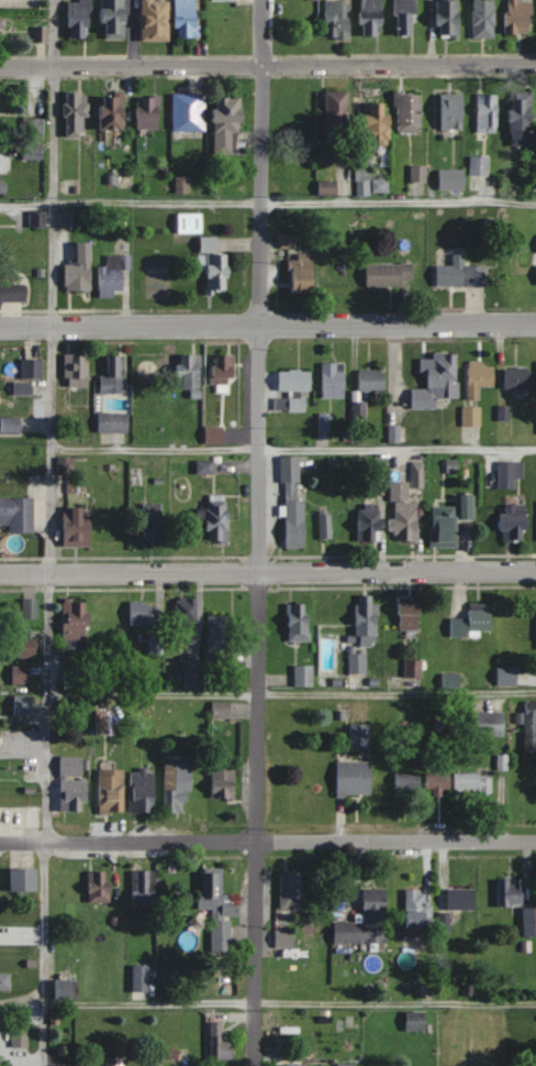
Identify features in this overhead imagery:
building: (518, 17)
building: (372, 18)
building: (406, 18)
building: (80, 19)
building: (115, 19)
building: (188, 19)
building: (337, 19)
building: (448, 19)
building: (484, 19)
building: (156, 20)
building: (2, 24)
road: (267, 65)
building: (113, 111)
building: (453, 111)
building: (189, 112)
building: (149, 113)
building: (410, 113)
building: (488, 113)
building: (77, 114)
building: (338, 114)
building: (299, 116)
building: (523, 120)
building: (377, 121)
building: (227, 125)
building: (34, 128)
building: (364, 173)
building: (418, 174)
building: (453, 179)
building: (1, 180)
building: (327, 188)
road: (268, 201)
building: (66, 219)
building: (190, 223)
building: (214, 264)
building: (80, 268)
building: (303, 271)
building: (460, 273)
building: (389, 274)
building: (113, 275)
building: (12, 294)
road: (267, 322)
building: (33, 369)
building: (224, 369)
building: (76, 370)
building: (191, 373)
building: (114, 376)
building: (518, 377)
building: (479, 378)
building: (333, 380)
building: (371, 380)
building: (295, 381)
building: (437, 381)
building: (299, 406)
building: (471, 416)
building: (114, 422)
building: (11, 425)
building: (215, 435)
road: (293, 447)
building: (510, 473)
building: (293, 504)
building: (469, 507)
building: (403, 513)
building: (18, 514)
building: (216, 518)
building: (154, 523)
building: (515, 523)
building: (326, 525)
building: (370, 525)
building: (78, 527)
building: (444, 527)
road: (51, 532)
road: (261, 532)
road: (268, 571)
building: (30, 608)
building: (187, 612)
building: (145, 614)
building: (410, 614)
building: (299, 622)
building: (473, 622)
building: (76, 623)
building: (366, 631)
building: (220, 637)
building: (155, 644)
building: (414, 668)
building: (507, 674)
building: (192, 677)
building: (72, 679)
road: (290, 692)
building: (24, 704)
building: (221, 708)
building: (104, 722)
building: (489, 723)
building: (529, 725)
building: (360, 736)
building: (355, 778)
building: (438, 781)
building: (74, 783)
building: (224, 783)
building: (472, 783)
building: (409, 784)
building: (178, 788)
building: (112, 791)
building: (143, 791)
road: (268, 840)
building: (24, 880)
building: (99, 888)
building: (143, 890)
building: (292, 890)
building: (511, 892)
building: (461, 899)
building: (418, 910)
building: (217, 911)
building: (367, 921)
building: (529, 922)
building: (284, 937)
building: (141, 978)
building: (4, 980)
building: (67, 989)
road: (288, 999)
building: (221, 1042)
building: (114, 1062)
building: (292, 1065)
building: (460, 1065)

